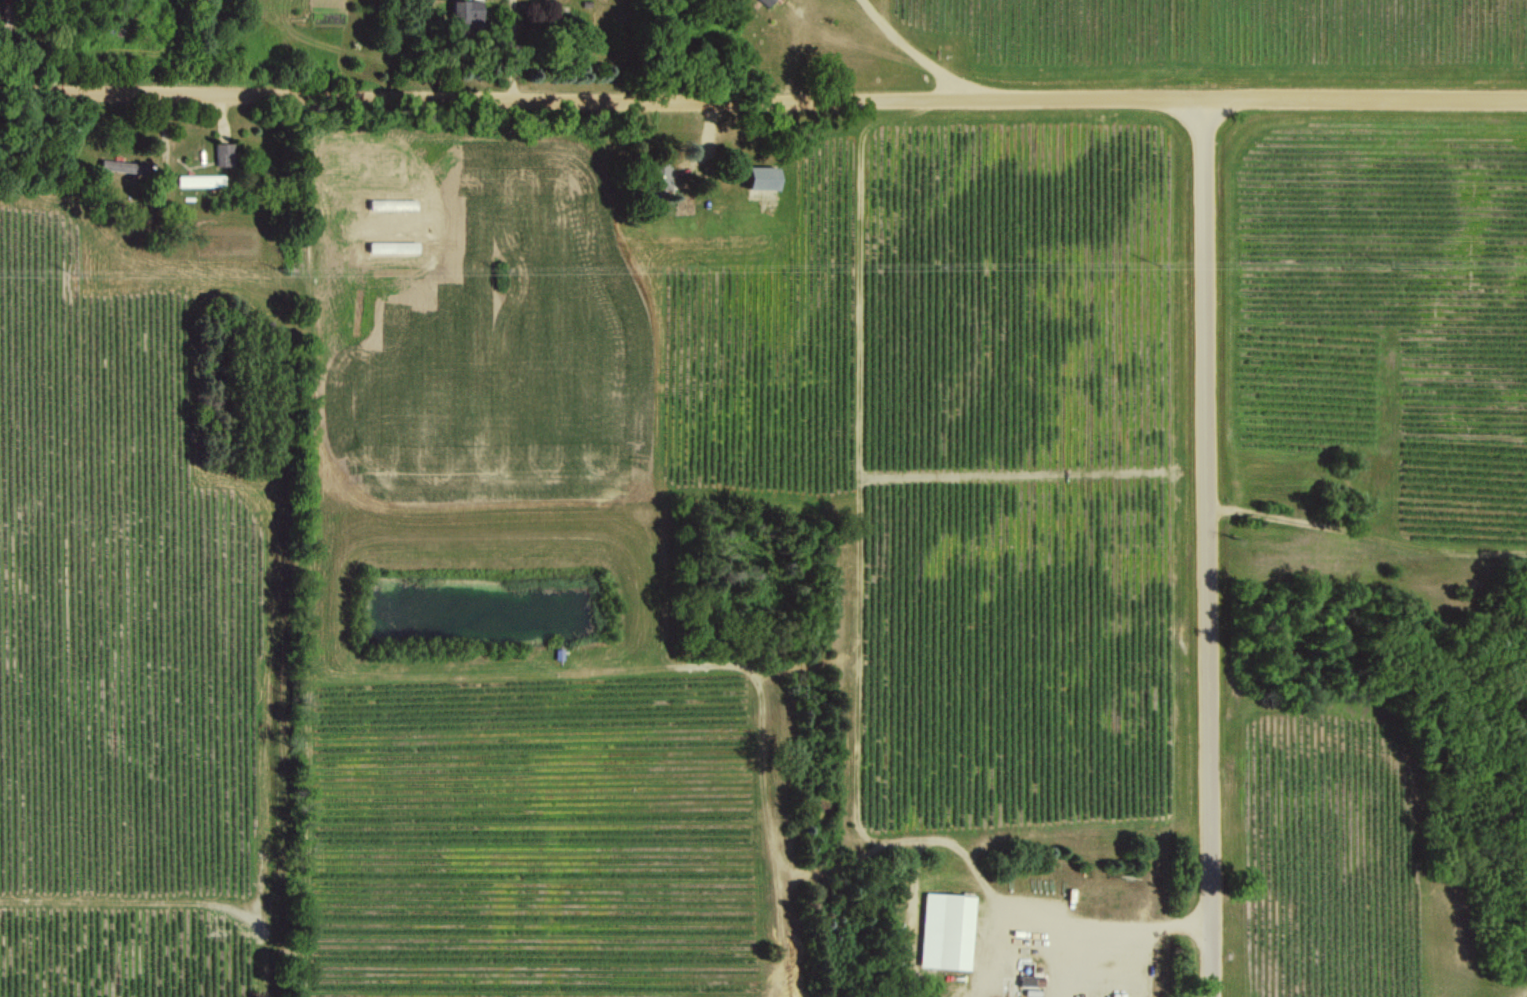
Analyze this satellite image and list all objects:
building: (766, 2)
building: (468, 16)
road: (927, 55)
road: (763, 99)
building: (225, 154)
building: (117, 165)
building: (664, 173)
building: (764, 178)
building: (200, 180)
road: (1208, 547)
building: (947, 930)
road: (1126, 942)

